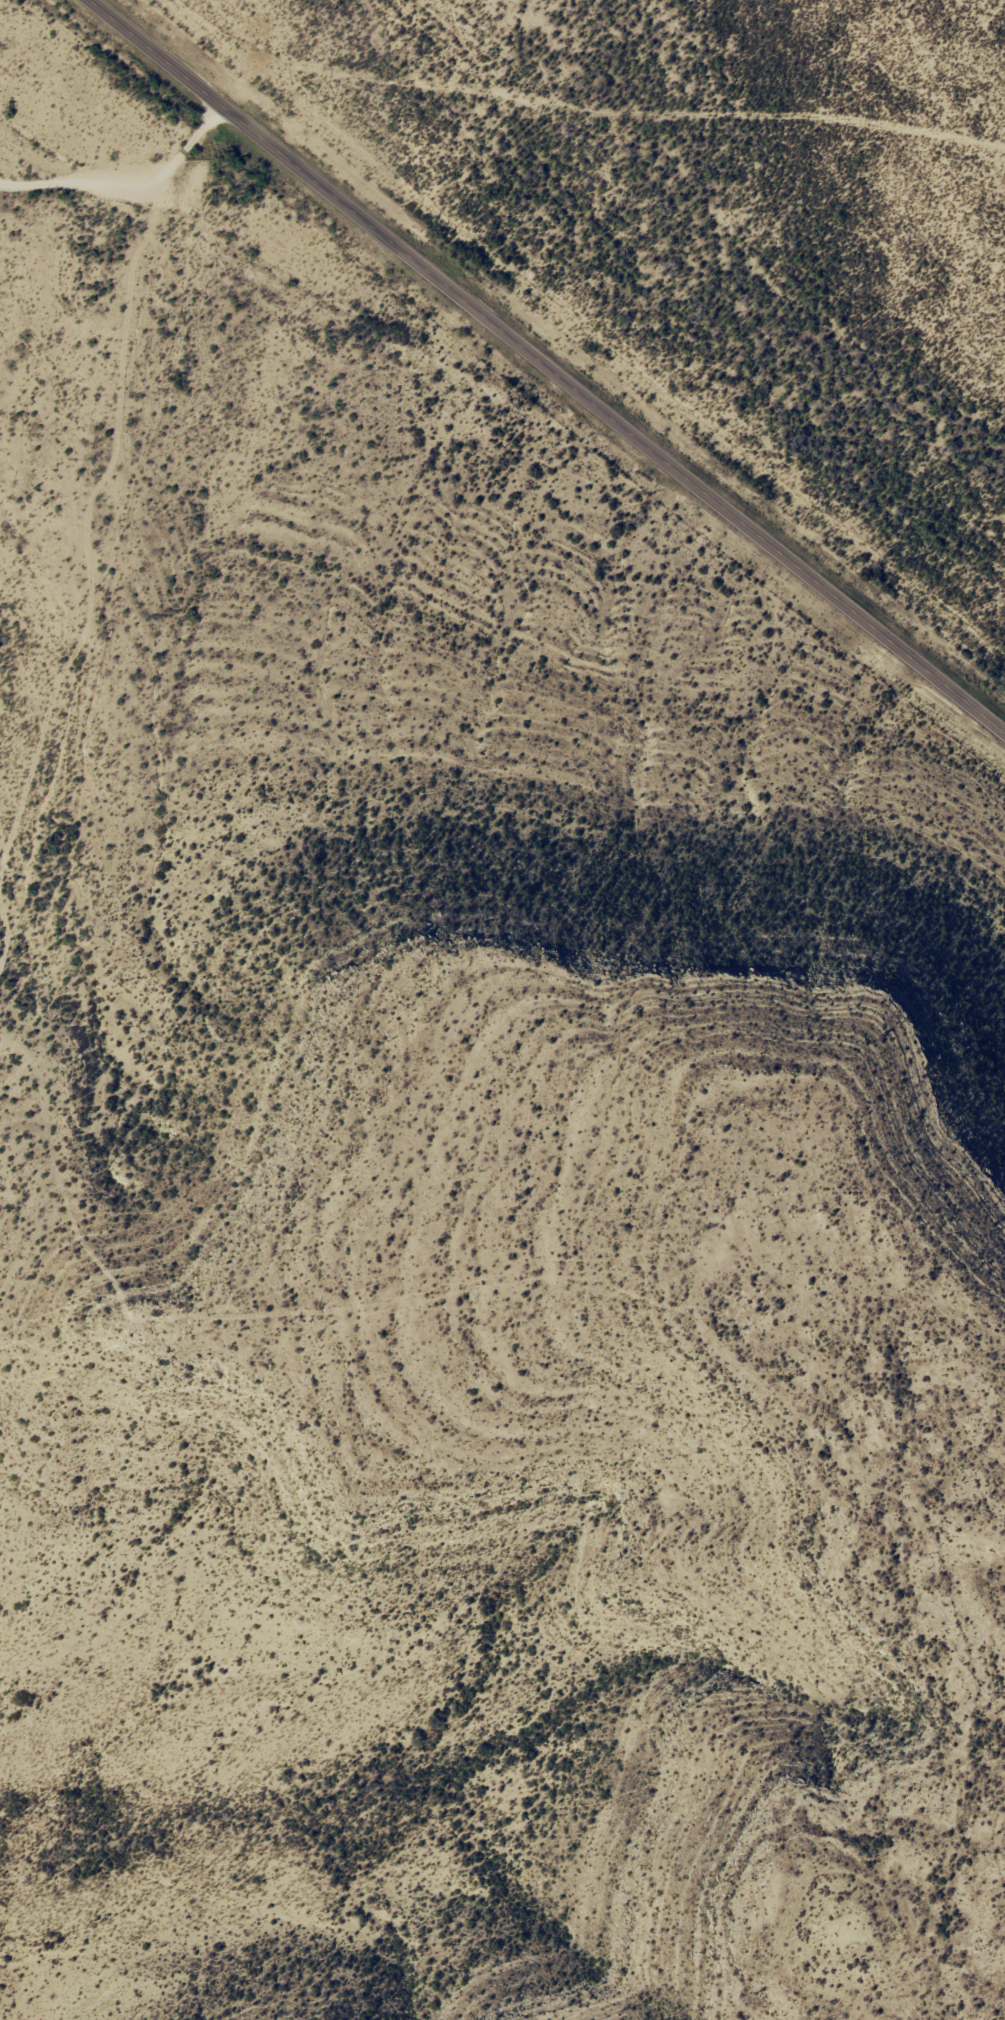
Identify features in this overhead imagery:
road: (120, 157)
road: (549, 365)

